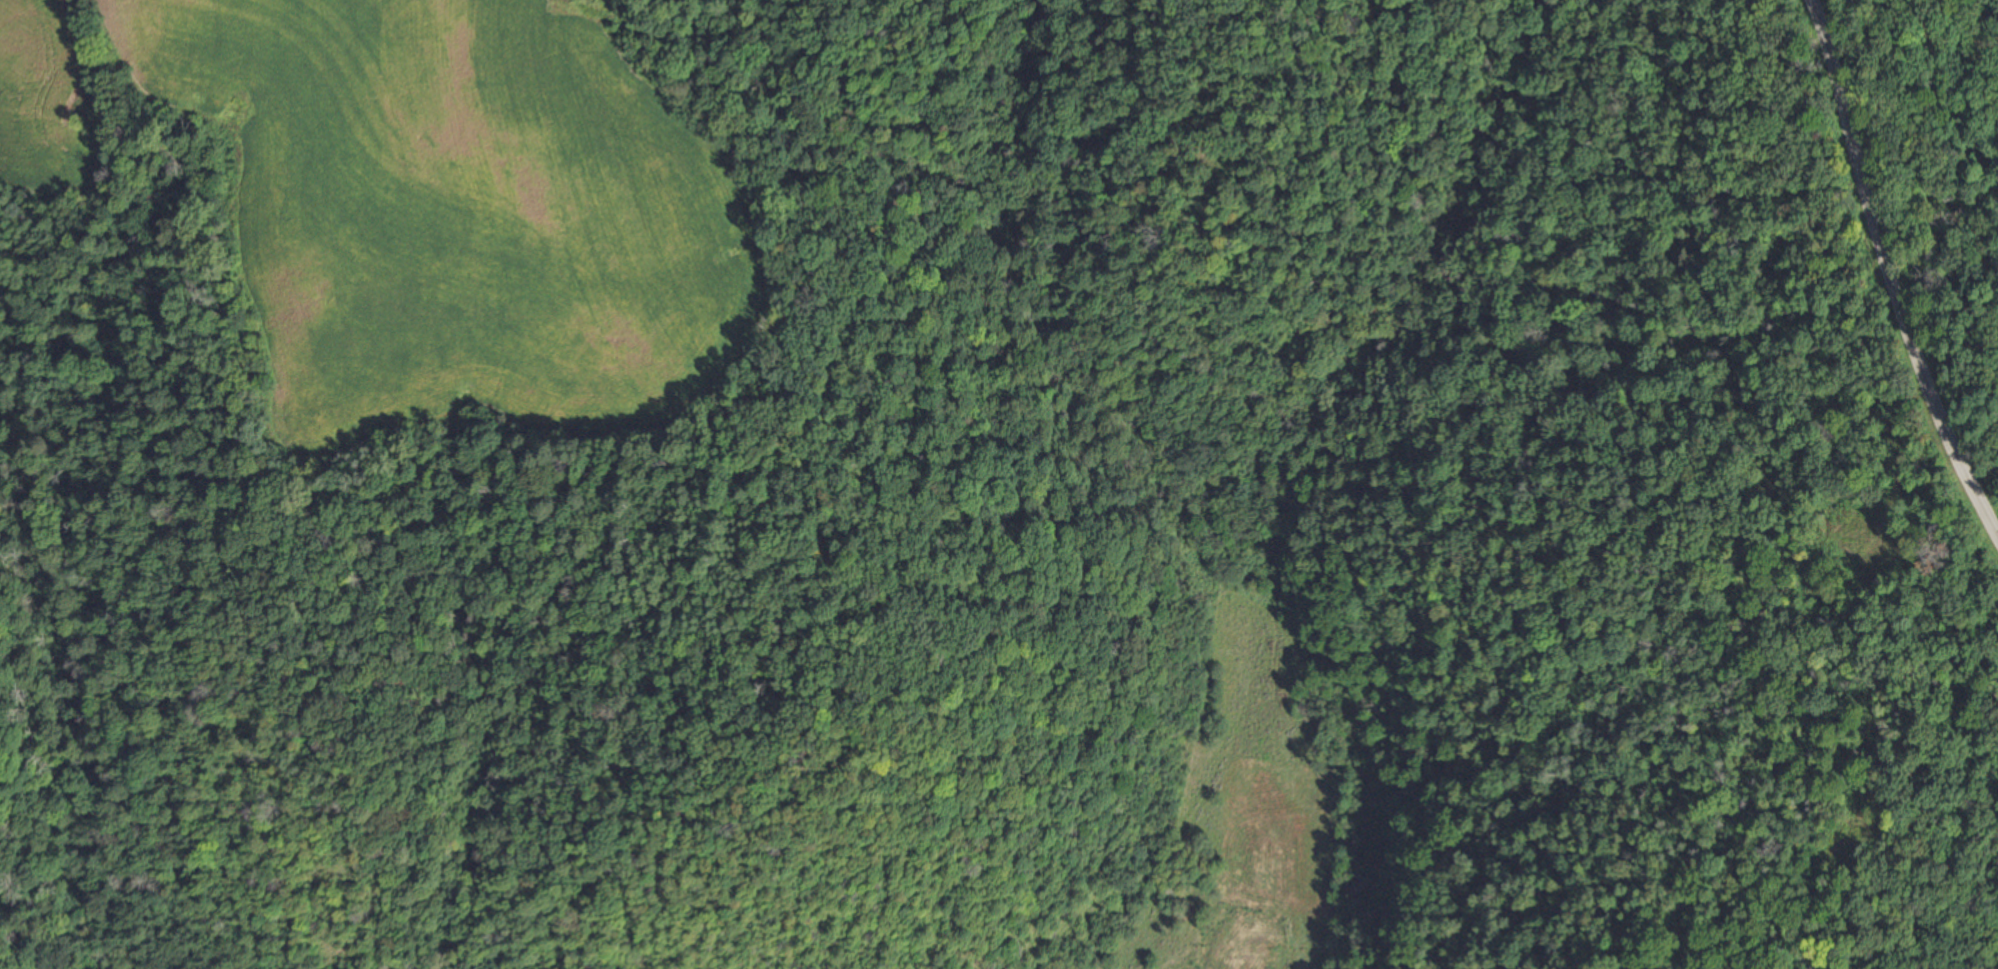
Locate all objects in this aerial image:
road: (1896, 270)

